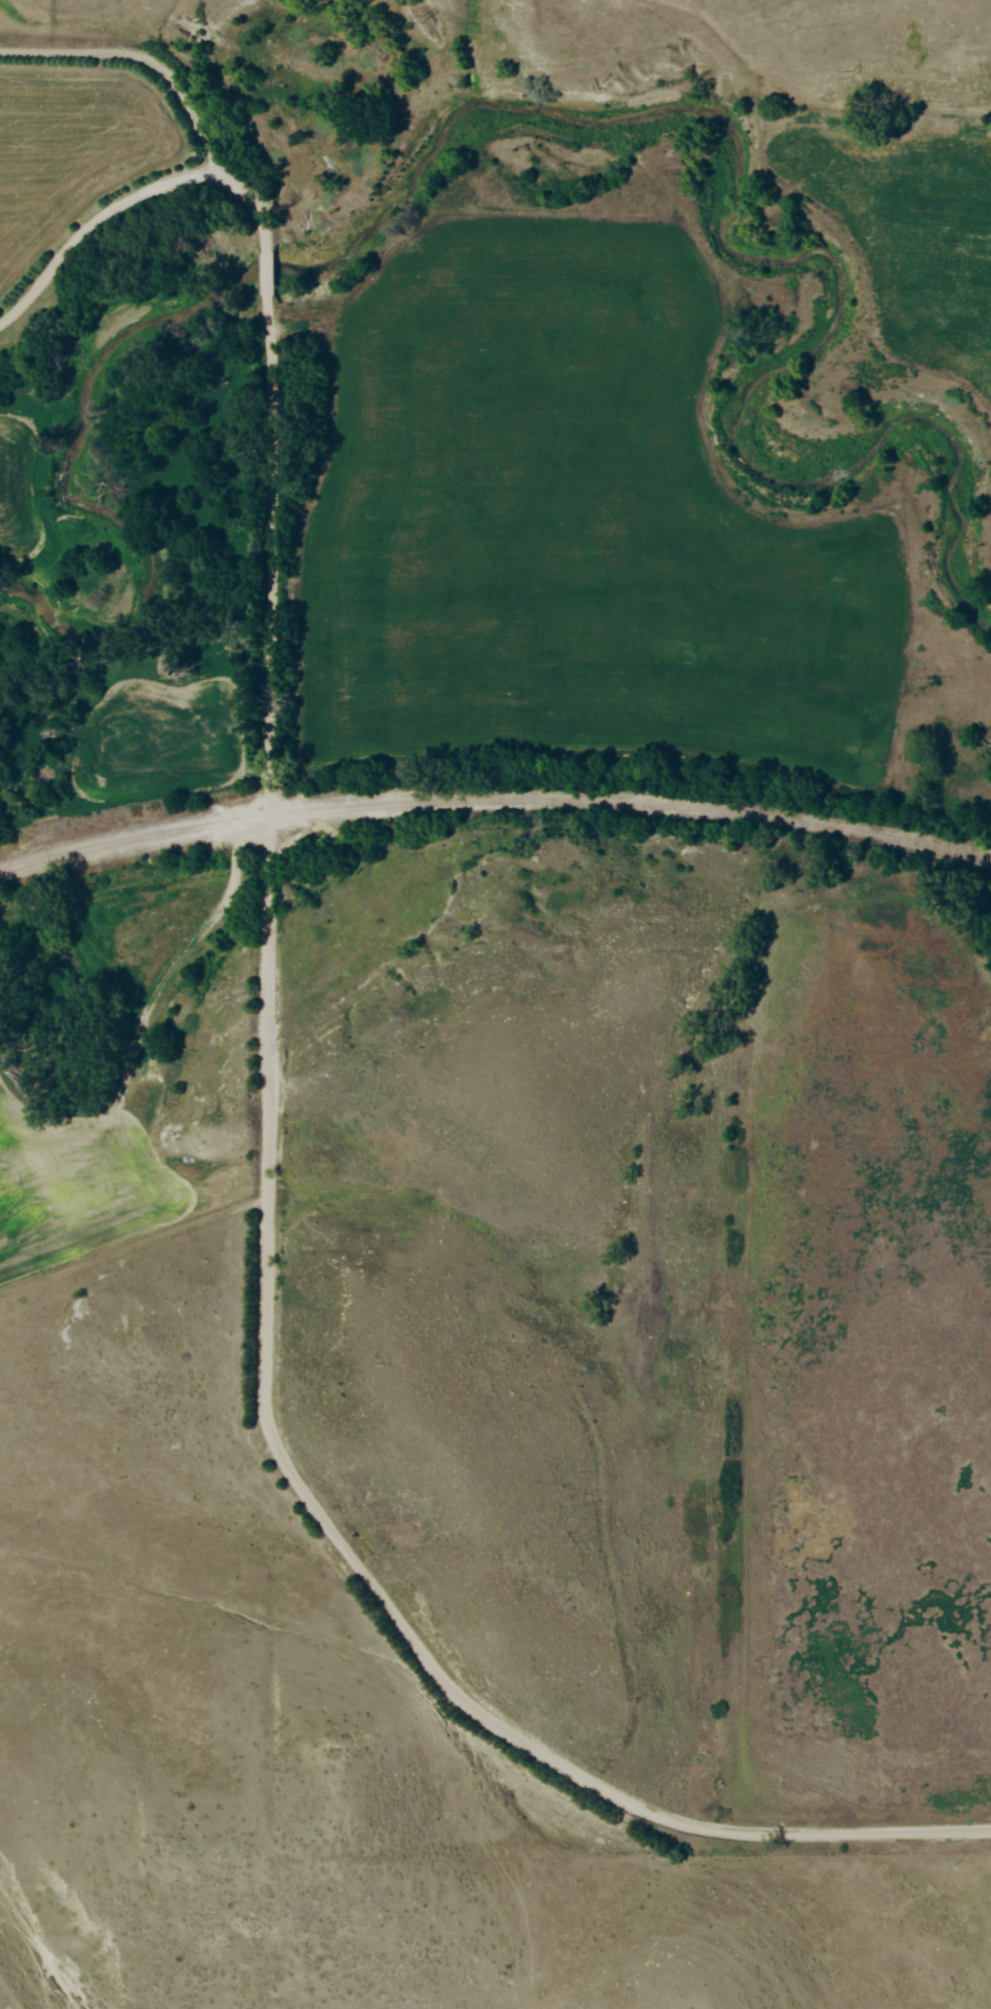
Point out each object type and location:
road: (133, 201)
road: (262, 276)
railway: (494, 802)
road: (265, 1311)

